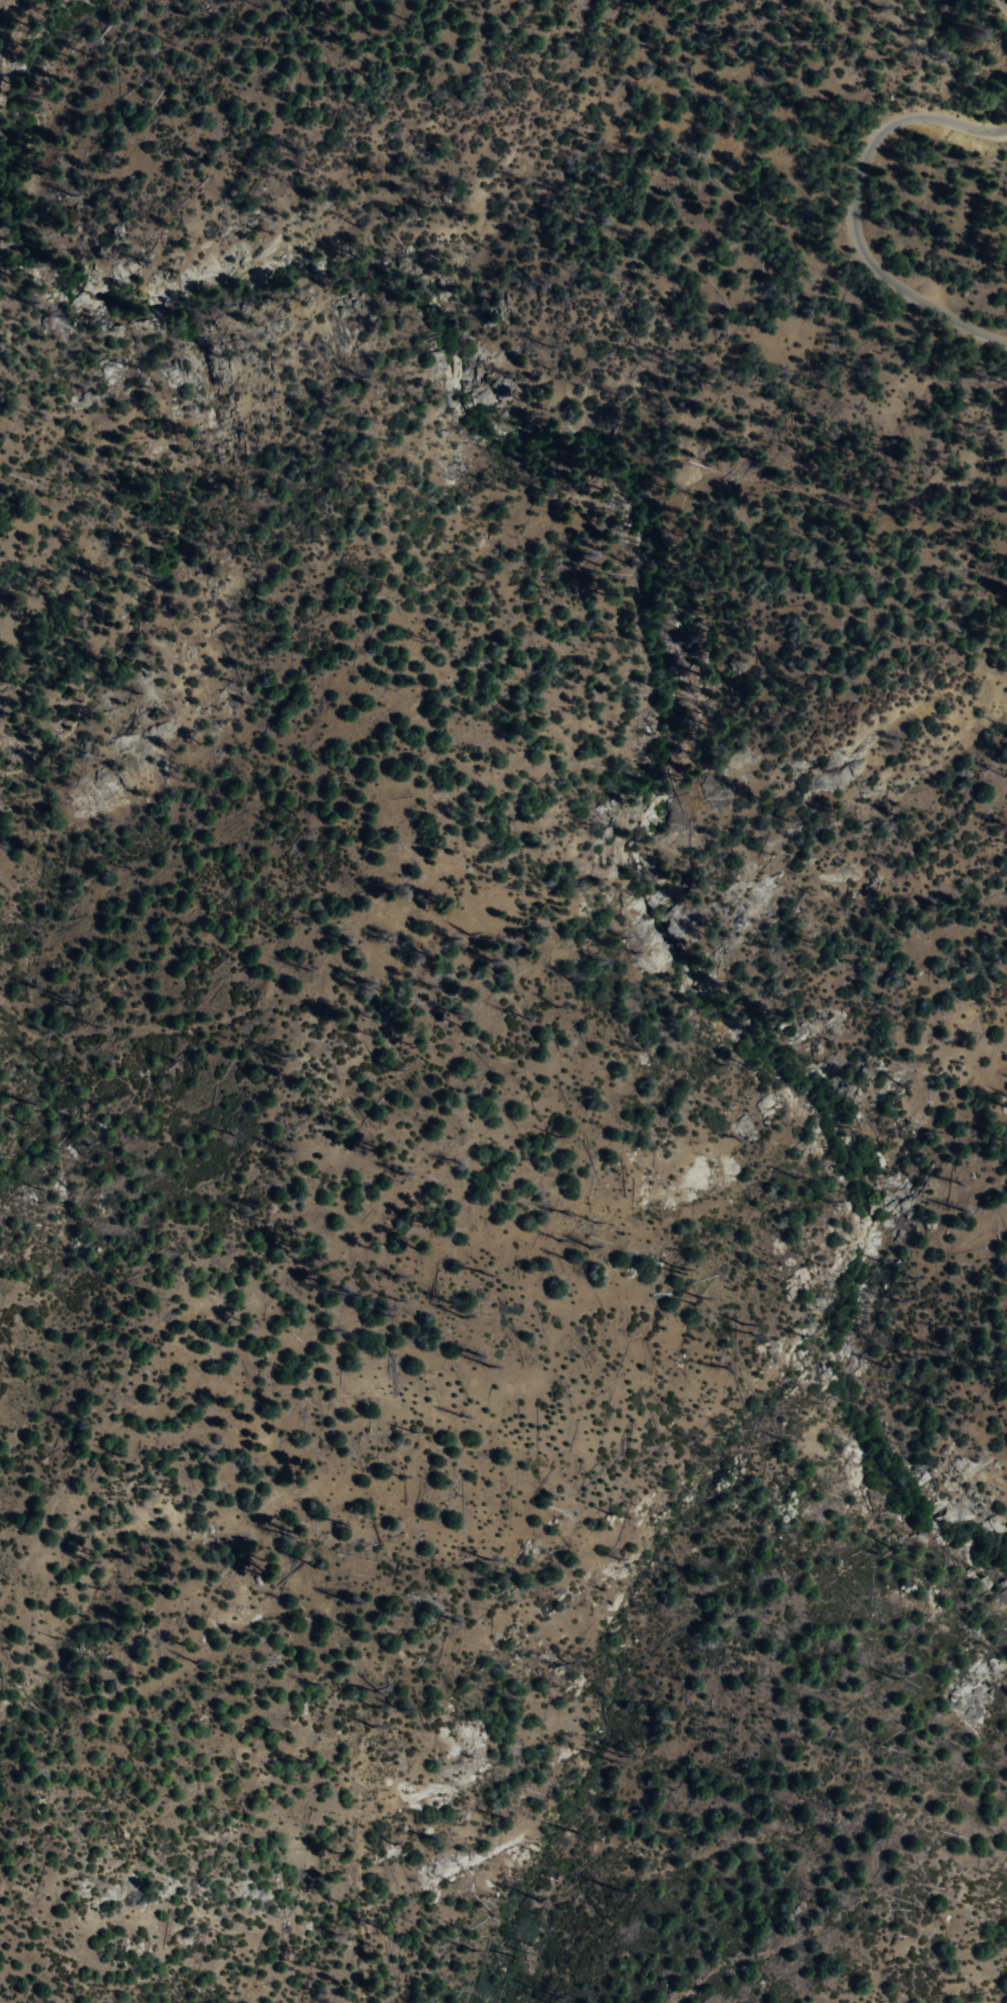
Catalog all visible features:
road: (1004, 3)
road: (859, 210)

